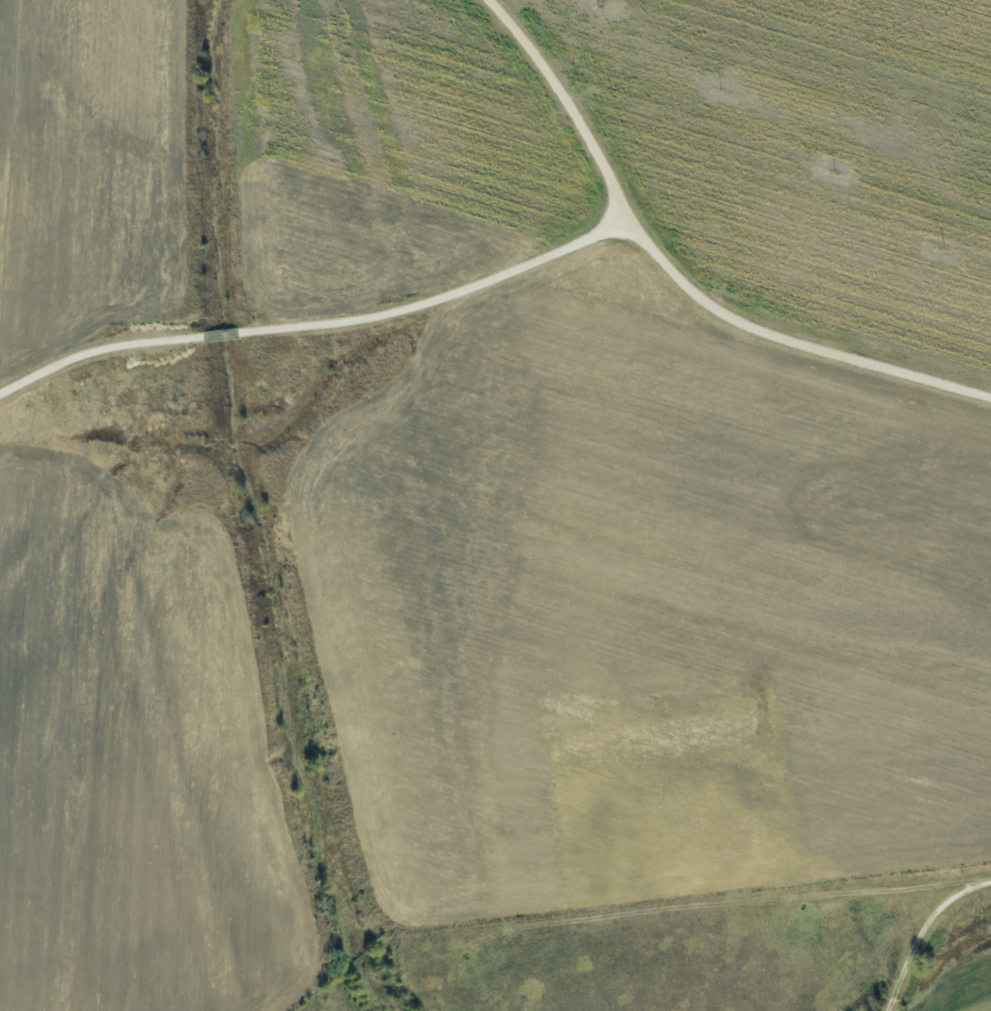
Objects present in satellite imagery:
road: (559, 106)
road: (508, 263)
road: (925, 931)

